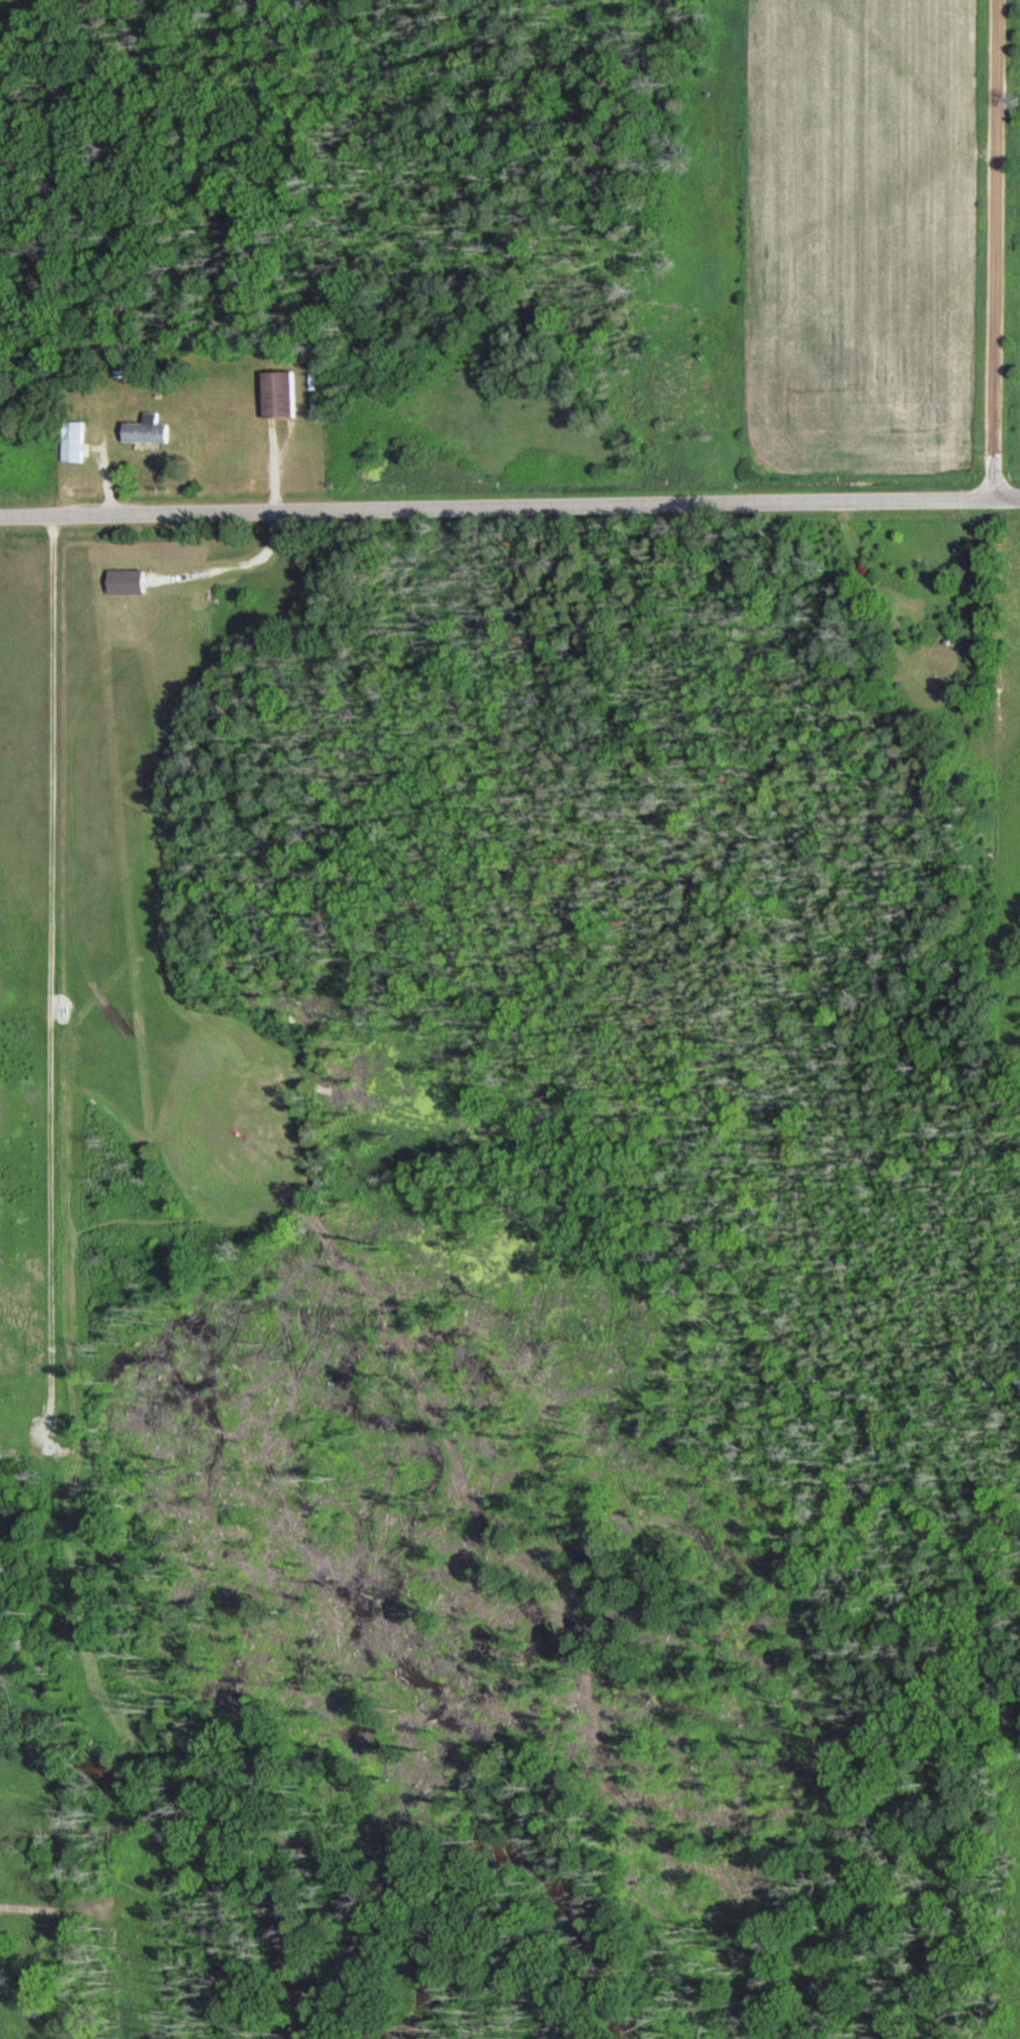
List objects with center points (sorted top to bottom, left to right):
road: (996, 252)
building: (282, 394)
building: (150, 430)
building: (74, 441)
road: (509, 513)
road: (50, 1013)
river: (198, 1810)
river: (479, 1846)

